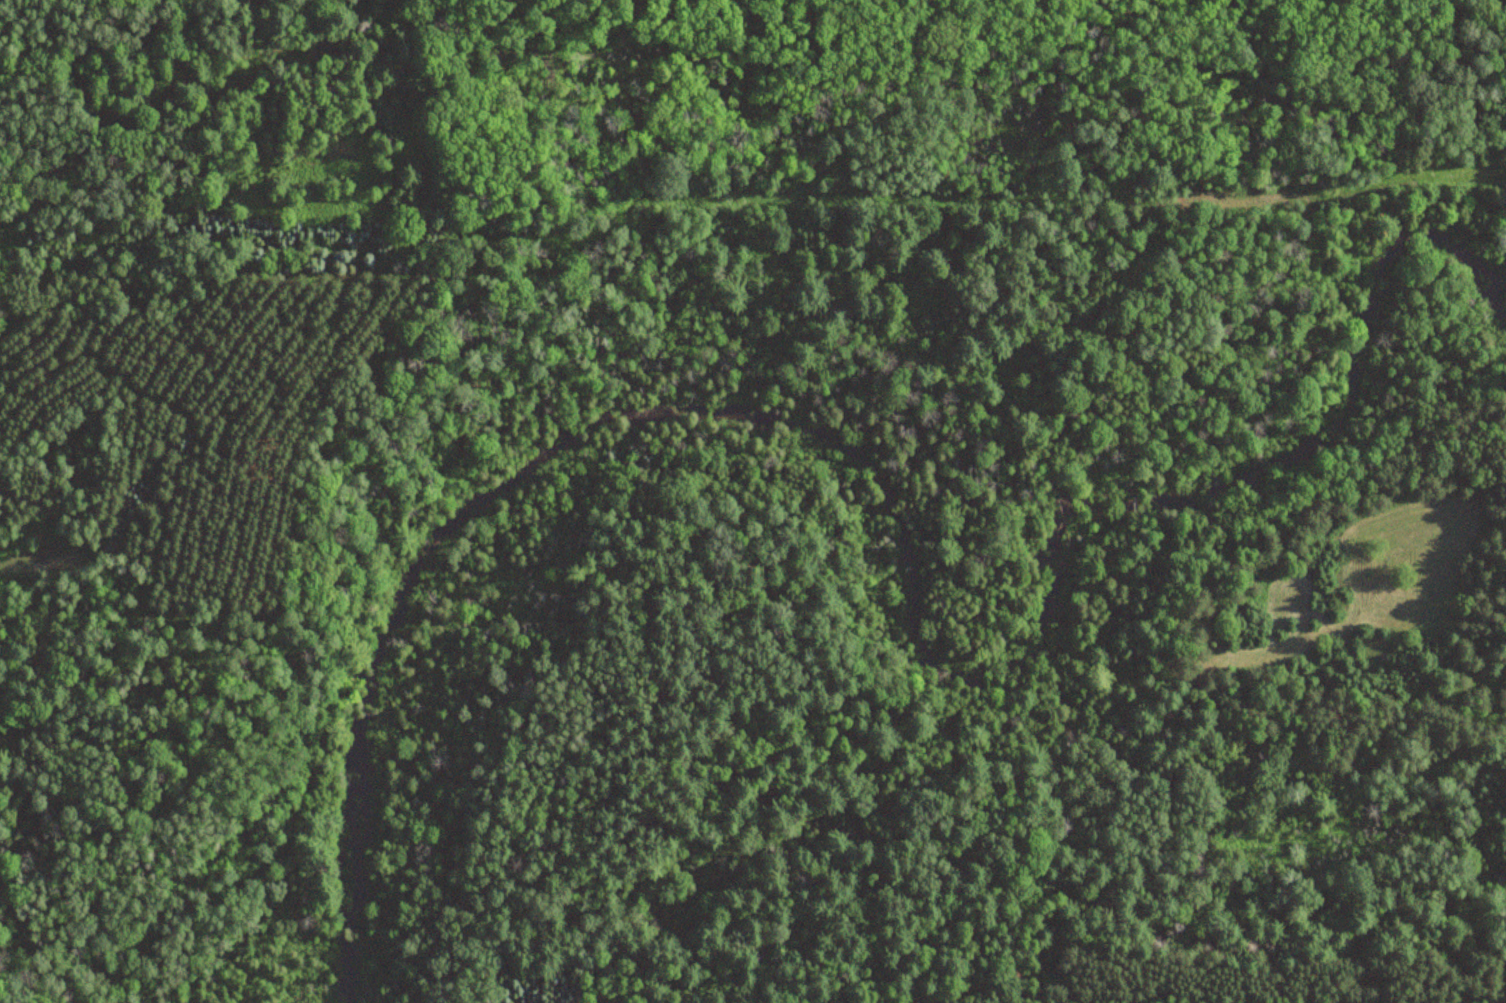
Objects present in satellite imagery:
river: (905, 507)

